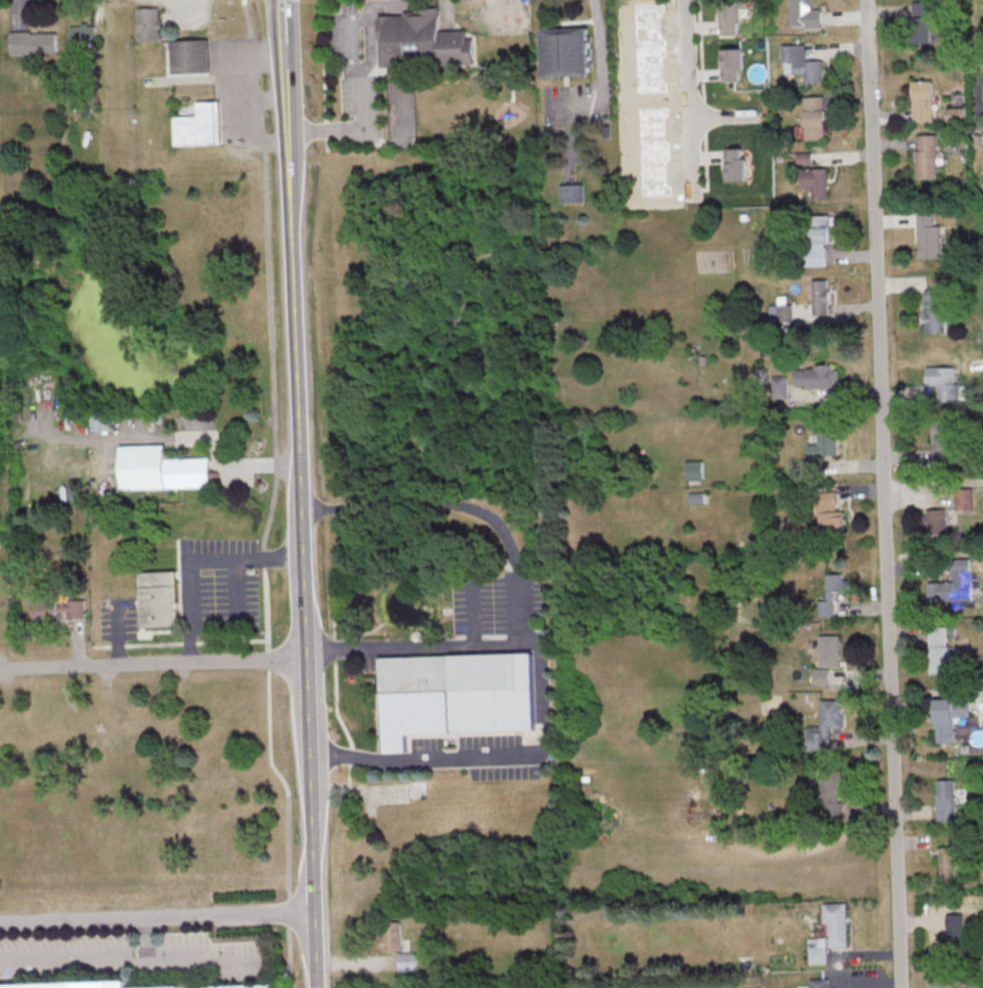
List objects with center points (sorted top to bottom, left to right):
building: (804, 14)
building: (729, 17)
building: (921, 22)
building: (148, 23)
building: (629, 24)
building: (81, 34)
building: (416, 37)
building: (33, 42)
building: (563, 51)
building: (189, 56)
building: (800, 62)
building: (731, 64)
road: (365, 87)
road: (600, 98)
road: (690, 99)
building: (922, 100)
road: (558, 104)
building: (957, 114)
building: (814, 117)
building: (197, 125)
building: (926, 156)
building: (803, 157)
building: (735, 164)
building: (815, 181)
building: (571, 193)
building: (927, 236)
building: (819, 238)
building: (820, 297)
building: (781, 310)
building: (934, 310)
building: (817, 376)
building: (942, 381)
building: (779, 387)
building: (96, 422)
building: (821, 444)
building: (942, 444)
building: (159, 469)
building: (694, 469)
road: (933, 483)
road: (299, 493)
road: (884, 493)
road: (271, 496)
building: (963, 498)
road: (469, 500)
building: (936, 520)
building: (831, 523)
road: (195, 557)
building: (949, 589)
building: (830, 593)
building: (157, 598)
building: (58, 609)
road: (410, 647)
building: (940, 649)
building: (829, 650)
road: (152, 661)
building: (821, 676)
building: (456, 696)
road: (539, 712)
building: (948, 717)
building: (825, 725)
road: (493, 757)
building: (832, 793)
building: (945, 799)
building: (948, 862)
road: (157, 916)
building: (837, 923)
building: (955, 934)
building: (392, 935)
airport: (145, 940)
building: (818, 950)
building: (408, 961)
building: (969, 983)
building: (85, 985)
building: (245, 985)
airport apron: (194, 986)
building: (393, 987)

